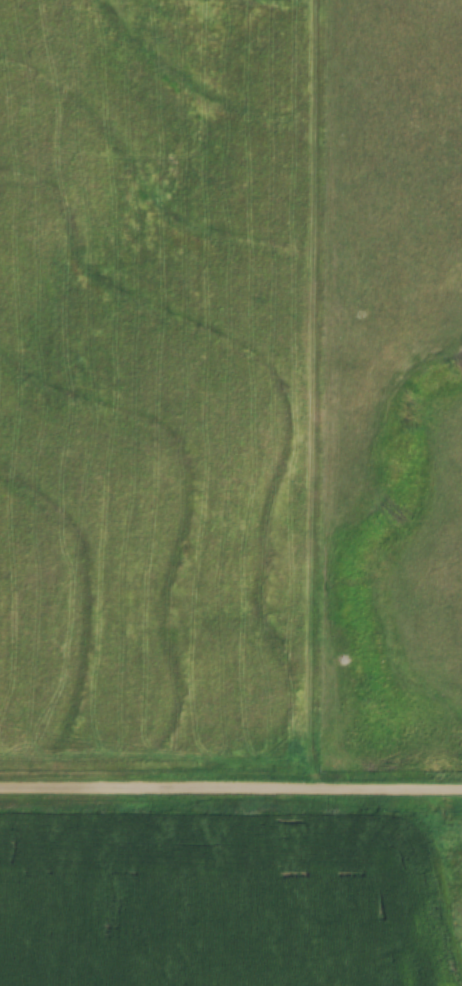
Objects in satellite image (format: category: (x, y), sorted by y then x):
road: (231, 792)

